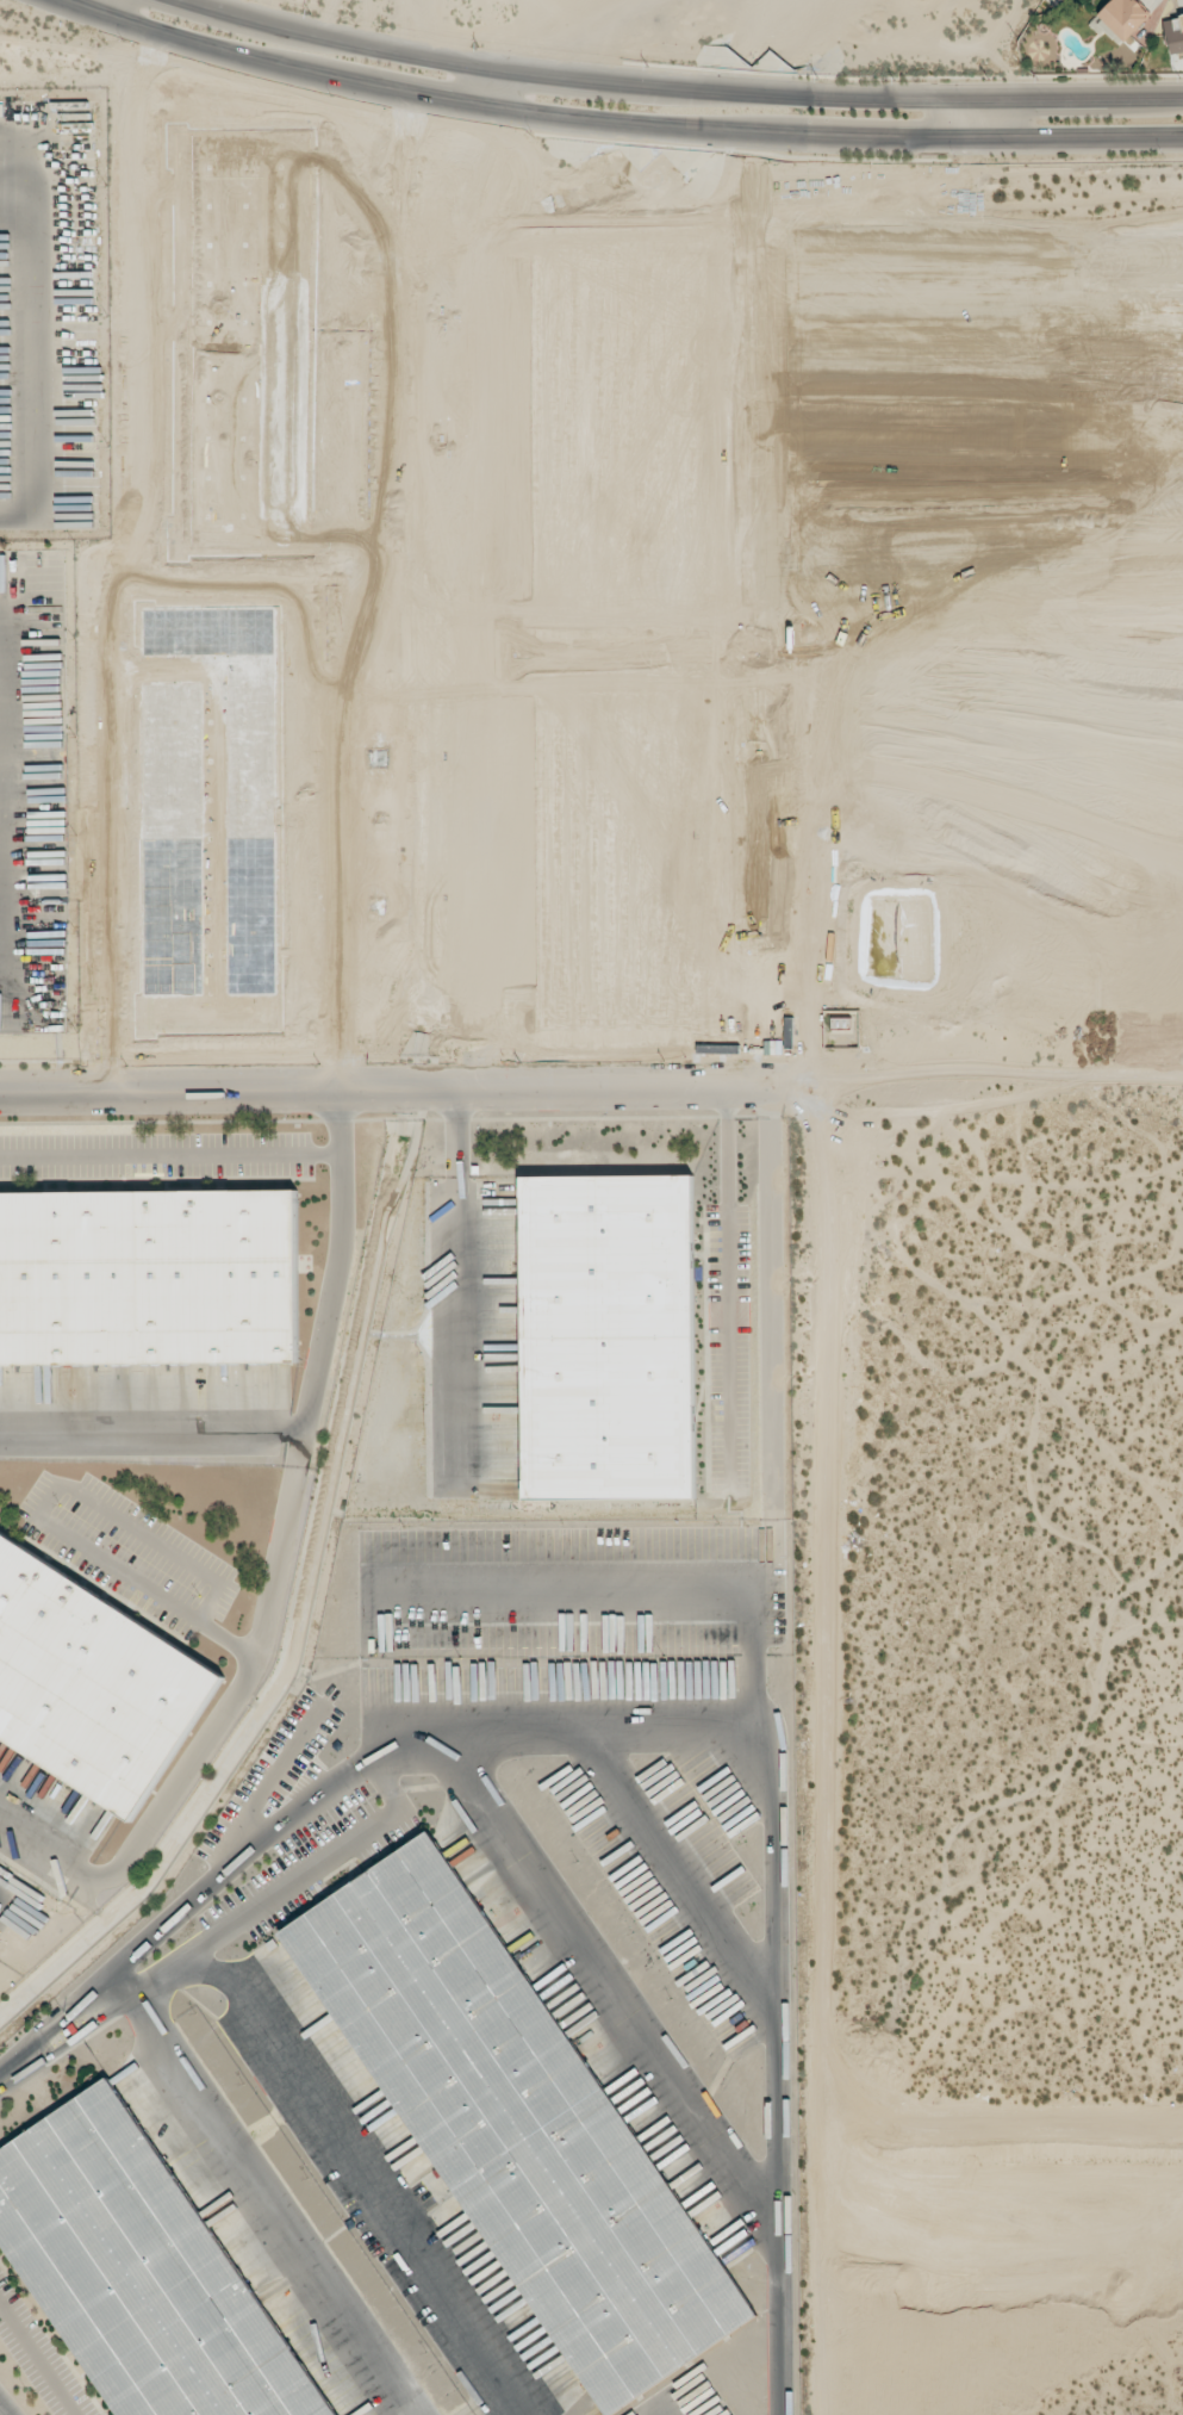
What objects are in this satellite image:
road: (82, 5)
road: (98, 5)
road: (218, 15)
building: (1122, 18)
building: (1173, 33)
road: (189, 39)
road: (375, 54)
road: (586, 79)
road: (381, 86)
road: (482, 87)
road: (830, 93)
road: (1079, 93)
road: (976, 113)
road: (602, 118)
road: (849, 134)
road: (1079, 134)
road: (390, 1091)
road: (170, 1155)
building: (152, 1278)
road: (727, 1289)
building: (616, 1337)
road: (305, 1416)
road: (299, 1453)
road: (38, 1513)
building: (88, 1682)
road: (661, 1713)
road: (206, 1739)
building: (512, 2125)
road: (262, 2192)
building: (141, 2273)
road: (37, 2360)
road: (1, 2413)

